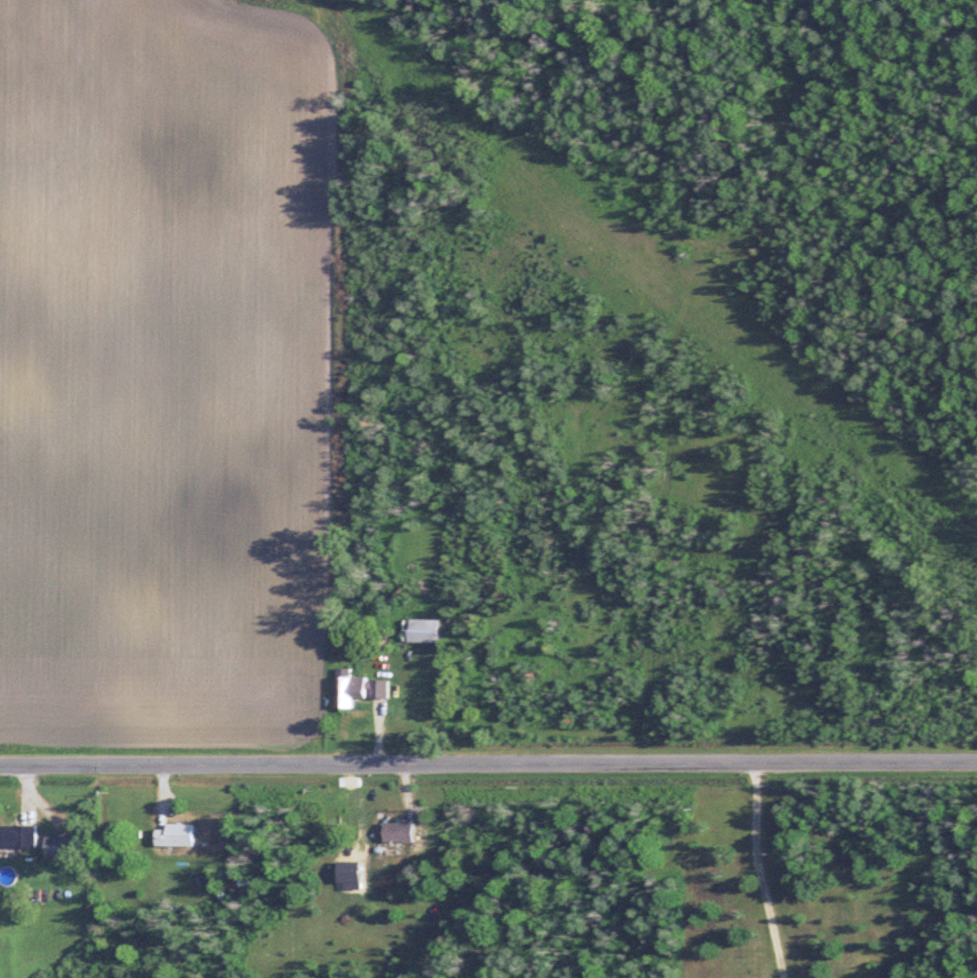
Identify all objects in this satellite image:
building: (430, 631)
building: (361, 688)
road: (488, 763)
building: (395, 832)
building: (20, 835)
building: (179, 835)
building: (64, 846)
road: (762, 870)

